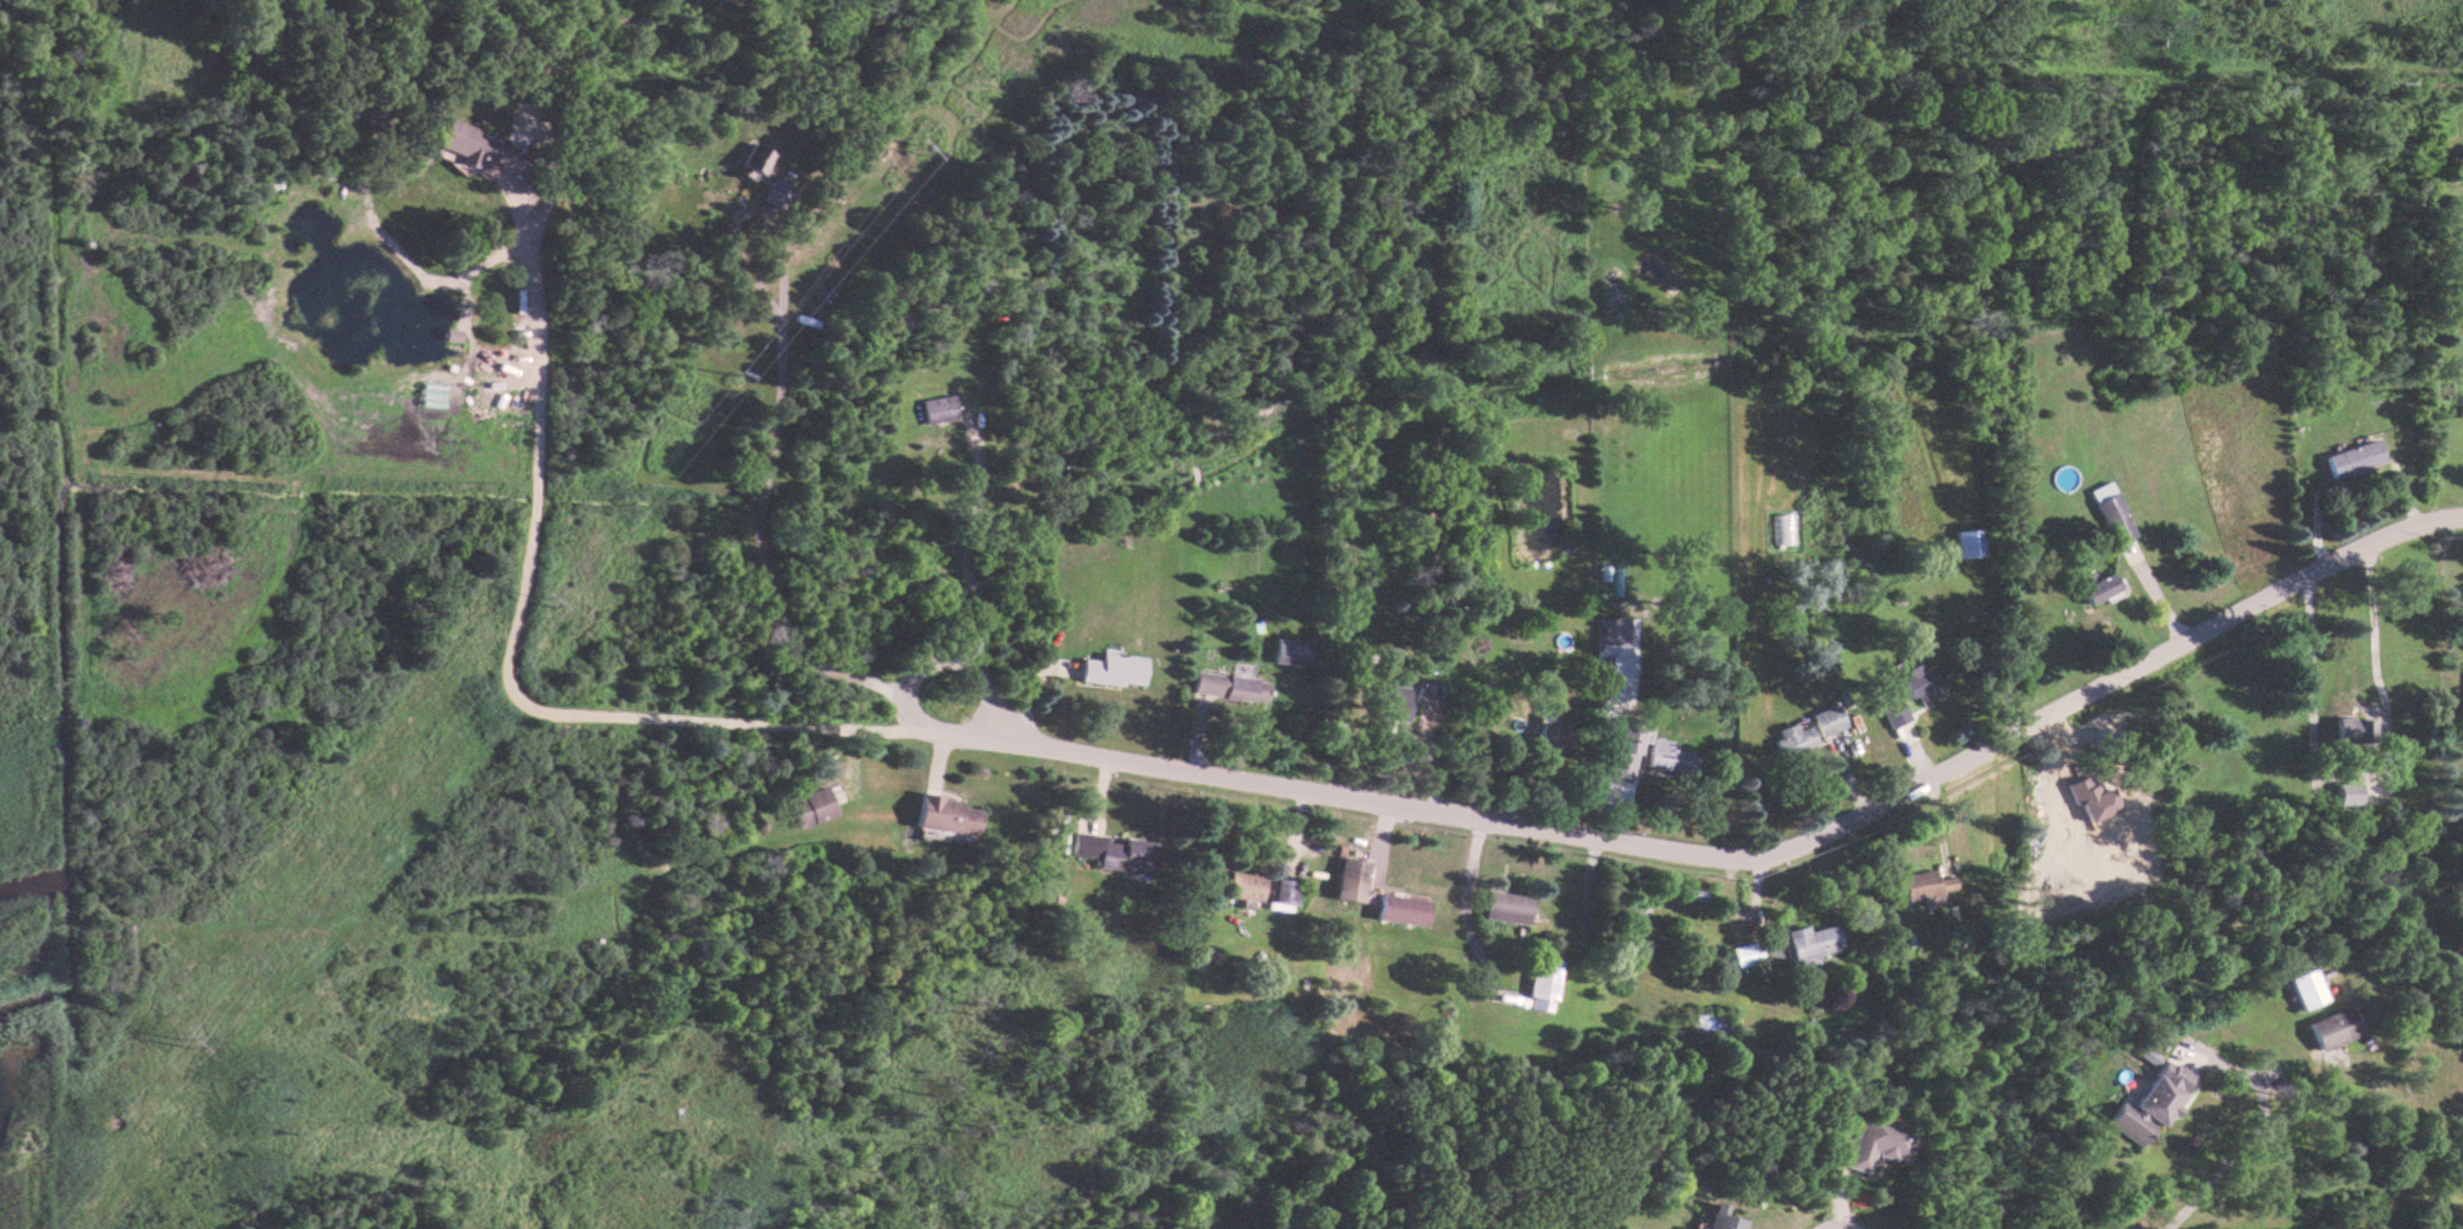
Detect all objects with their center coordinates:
building: (478, 148)
power tower: (925, 150)
building: (756, 159)
building: (775, 192)
building: (934, 409)
building: (2349, 457)
road: (756, 501)
building: (2108, 511)
building: (1964, 542)
road: (962, 550)
building: (2094, 587)
power tower: (558, 605)
building: (1612, 630)
road: (506, 660)
building: (1111, 668)
road: (905, 675)
road: (2306, 681)
building: (1918, 682)
building: (1227, 685)
building: (1392, 702)
building: (1892, 713)
building: (1824, 719)
building: (2343, 729)
building: (1551, 738)
building: (1790, 739)
building: (1622, 753)
building: (1662, 755)
building: (808, 807)
building: (942, 814)
building: (2101, 819)
road: (1777, 848)
building: (1114, 853)
building: (1346, 878)
building: (1239, 884)
building: (1922, 886)
building: (1278, 894)
building: (1502, 906)
building: (1398, 909)
building: (1807, 944)
building: (1744, 952)
building: (1542, 983)
building: (2303, 988)
building: (2328, 1028)
power tower: (201, 1046)
building: (2146, 1102)
building: (1878, 1140)
building: (1725, 1217)
road: (2163, 1219)

